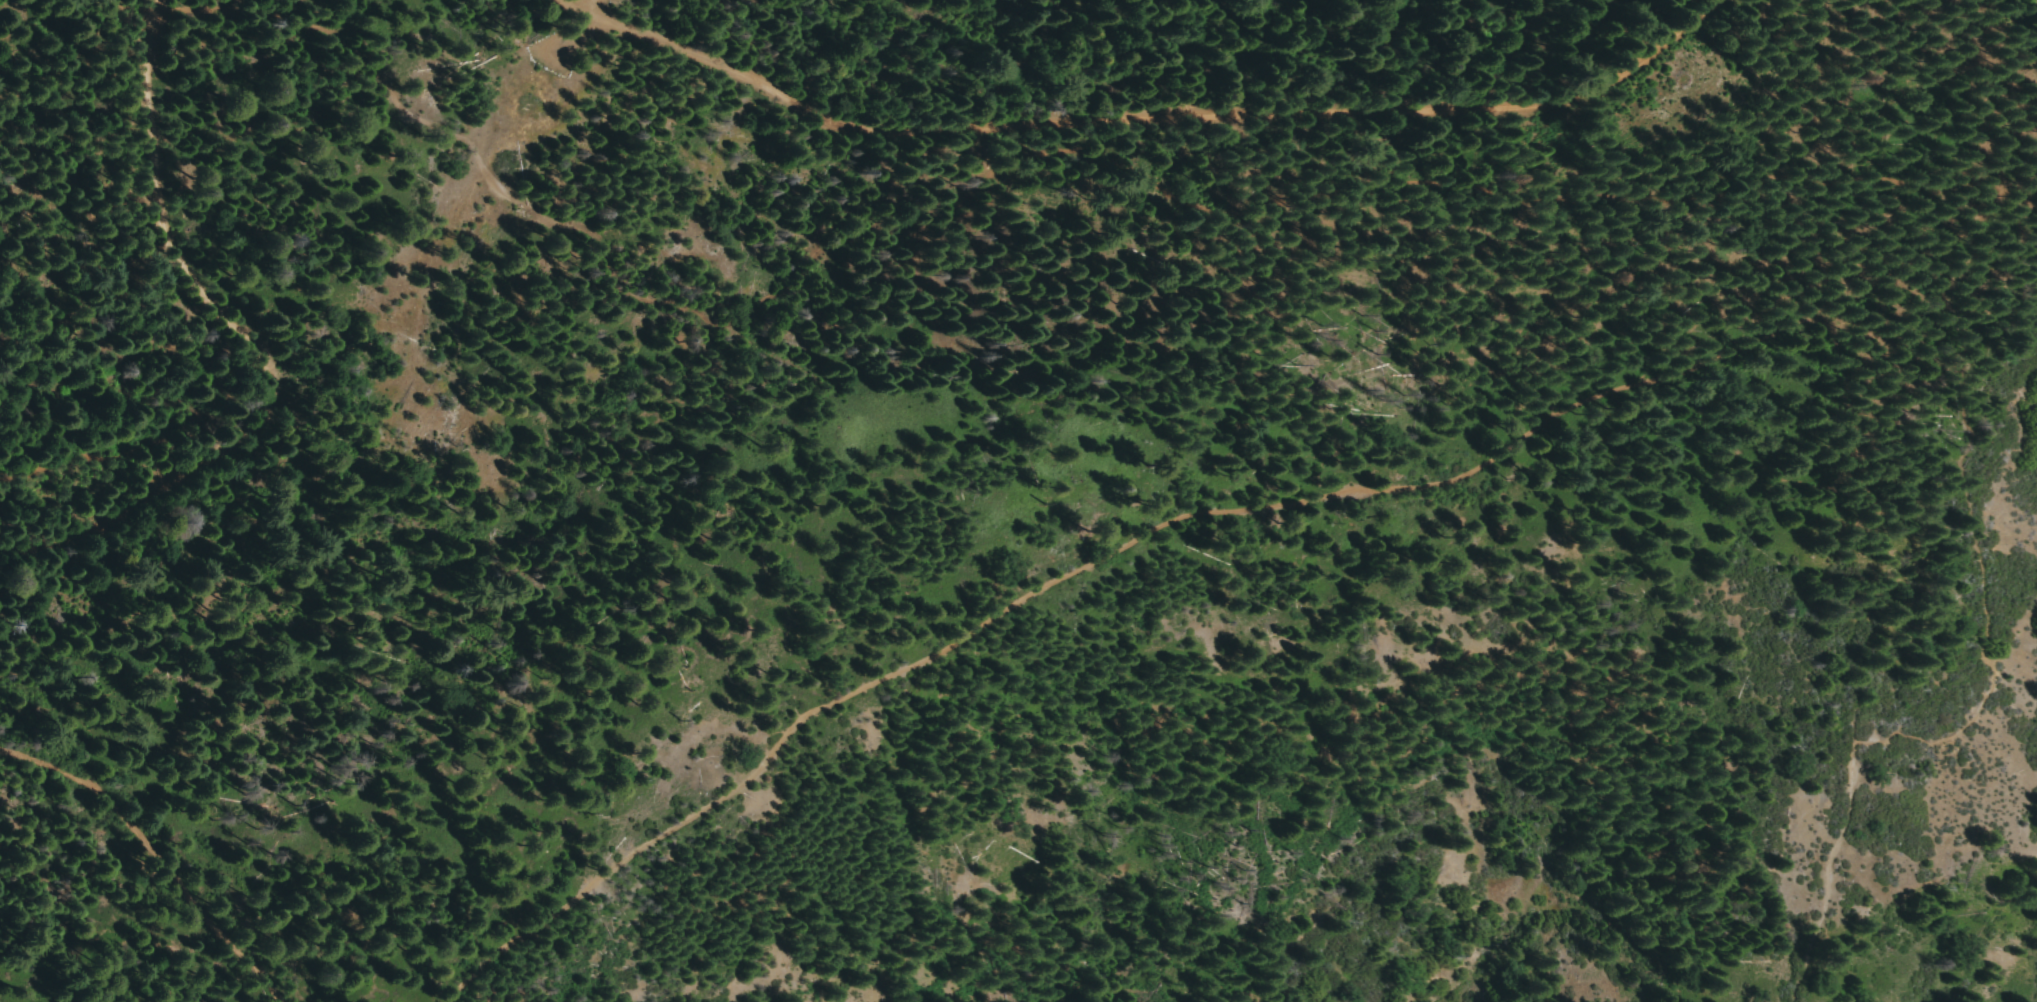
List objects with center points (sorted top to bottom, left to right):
road: (1162, 114)
road: (253, 345)
road: (1203, 514)
road: (152, 857)

